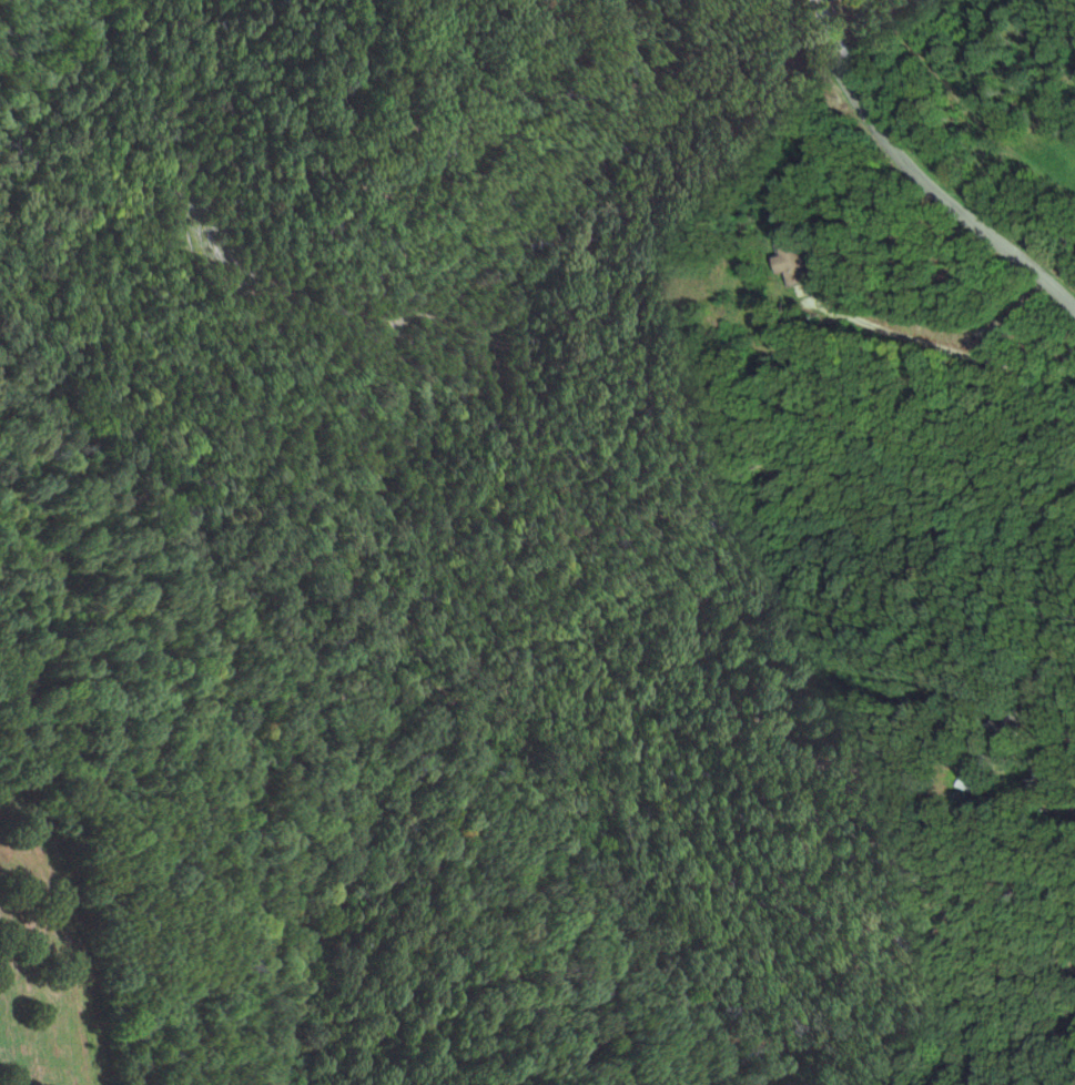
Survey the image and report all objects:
road: (917, 179)
building: (794, 262)
road: (940, 356)
road: (1059, 666)

